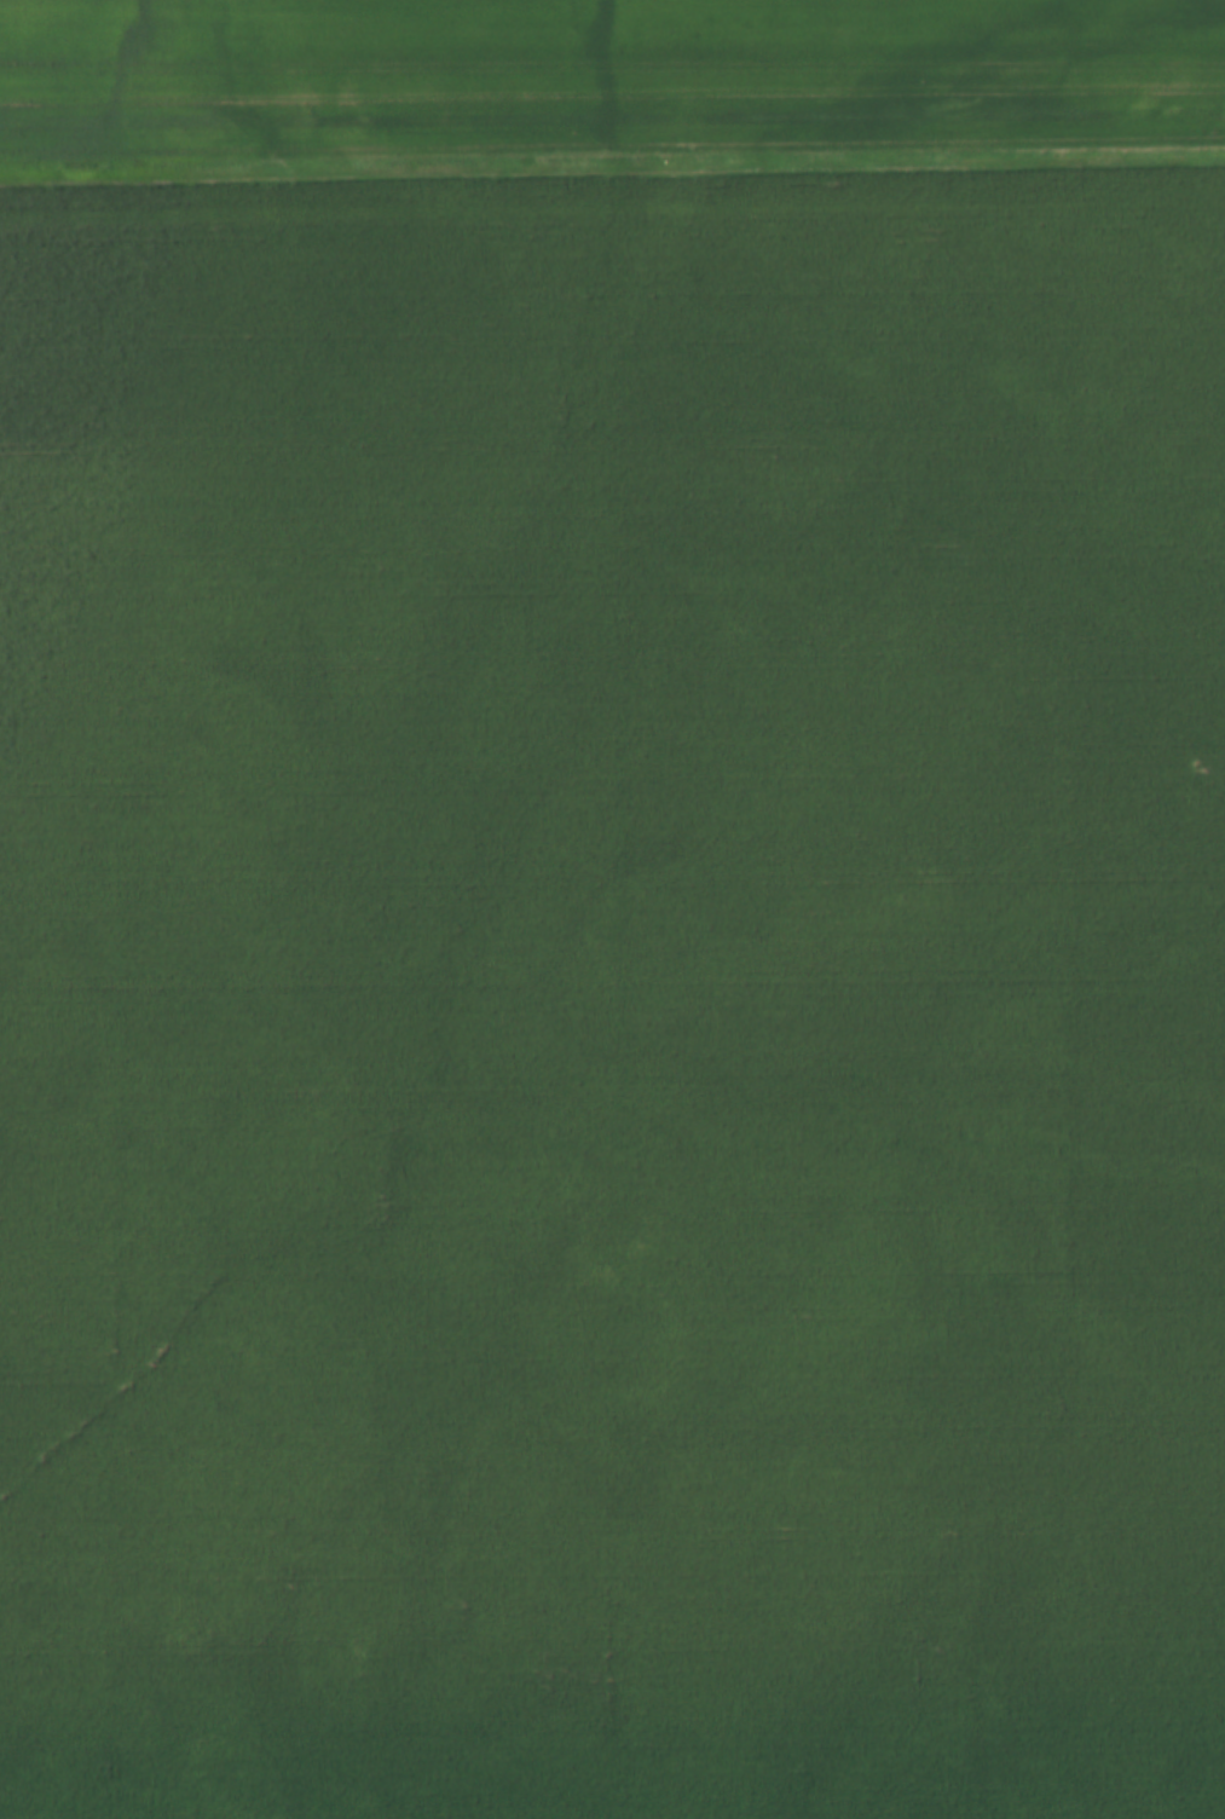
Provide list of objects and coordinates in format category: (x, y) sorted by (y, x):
road: (612, 180)

